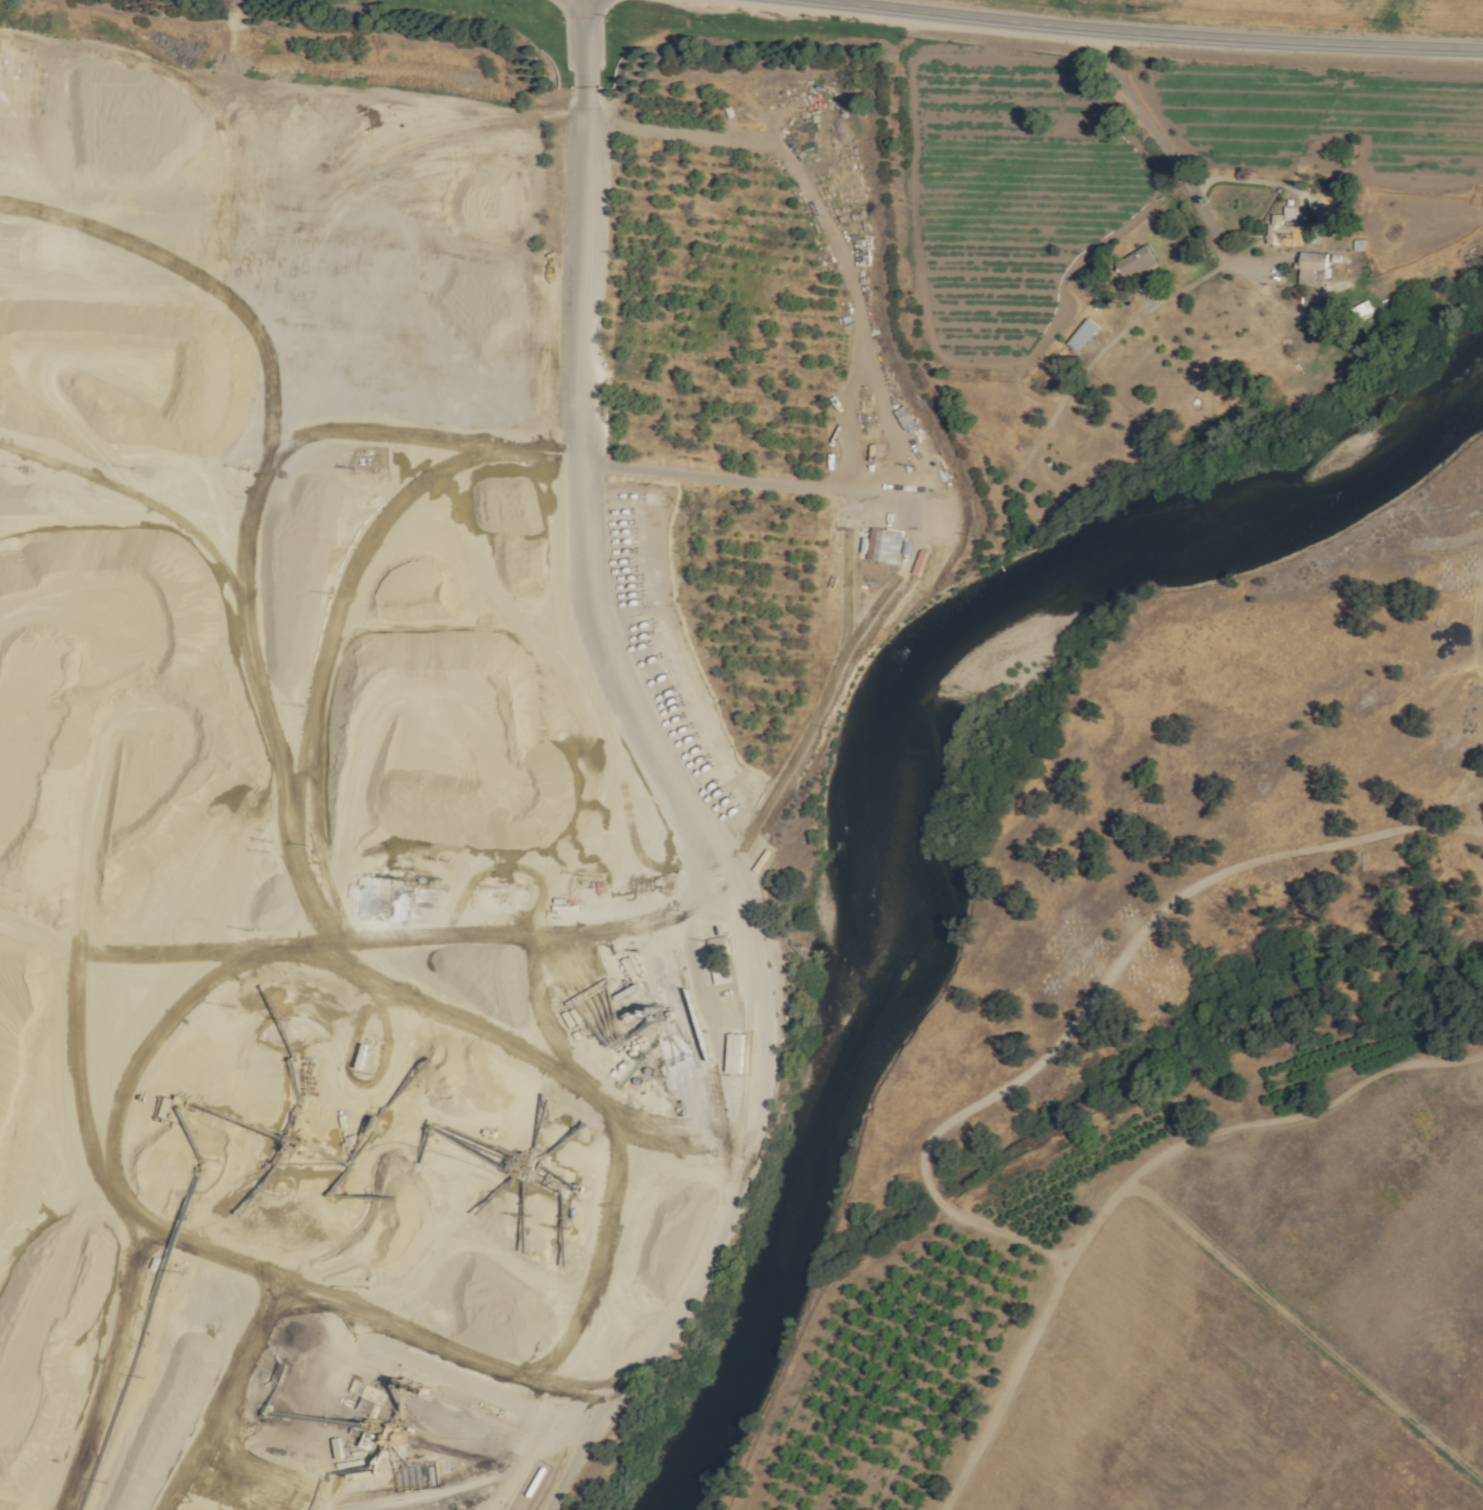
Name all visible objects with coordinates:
road: (1140, 36)
road: (1204, 213)
road: (834, 223)
building: (1284, 228)
building: (1133, 264)
building: (1310, 268)
building: (1079, 335)
building: (868, 452)
road: (920, 538)
building: (884, 546)
road: (848, 579)
river: (1084, 583)
road: (674, 783)
quarry: (344, 1037)
road: (935, 1148)
river: (792, 1241)
crop: (1282, 1326)

